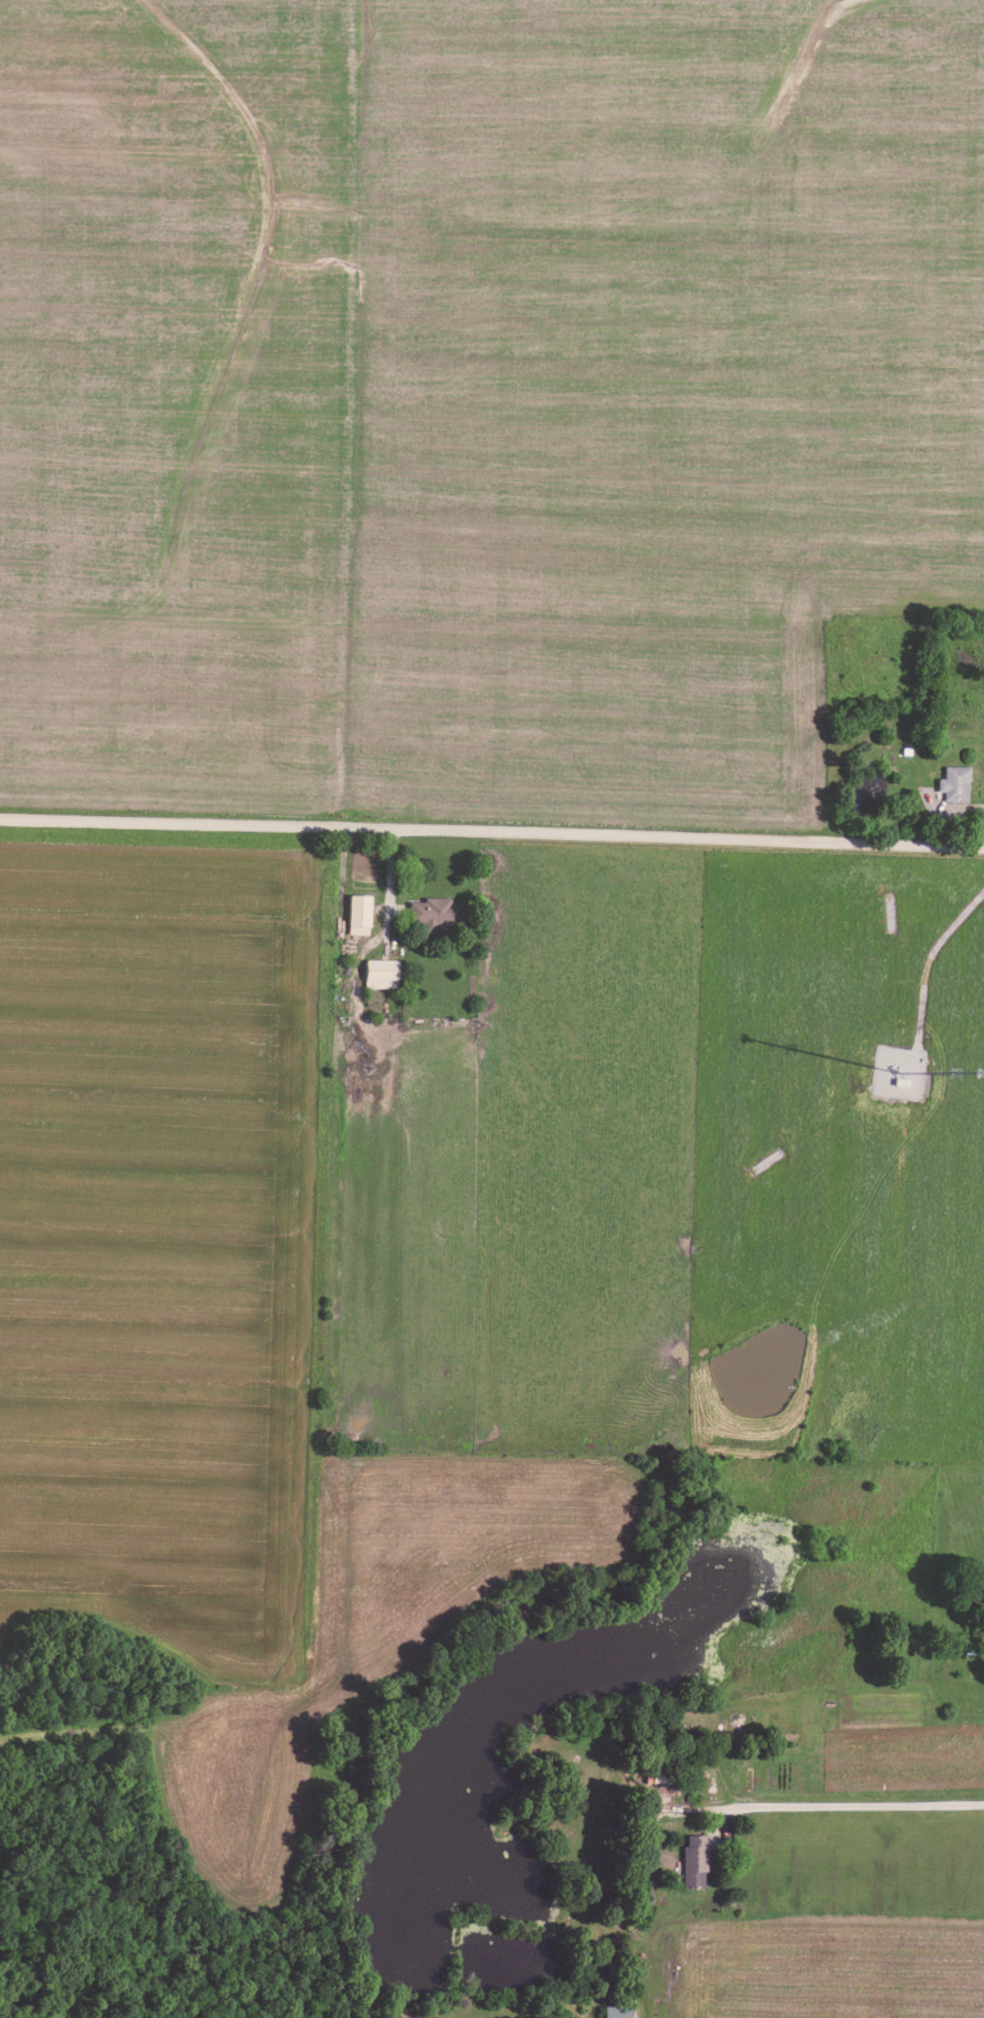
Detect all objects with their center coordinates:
building: (953, 780)
road: (492, 831)
building: (433, 909)
building: (357, 911)
road: (927, 958)
building: (379, 971)
building: (664, 1769)
road: (833, 1808)
building: (693, 1858)
building: (613, 2010)

